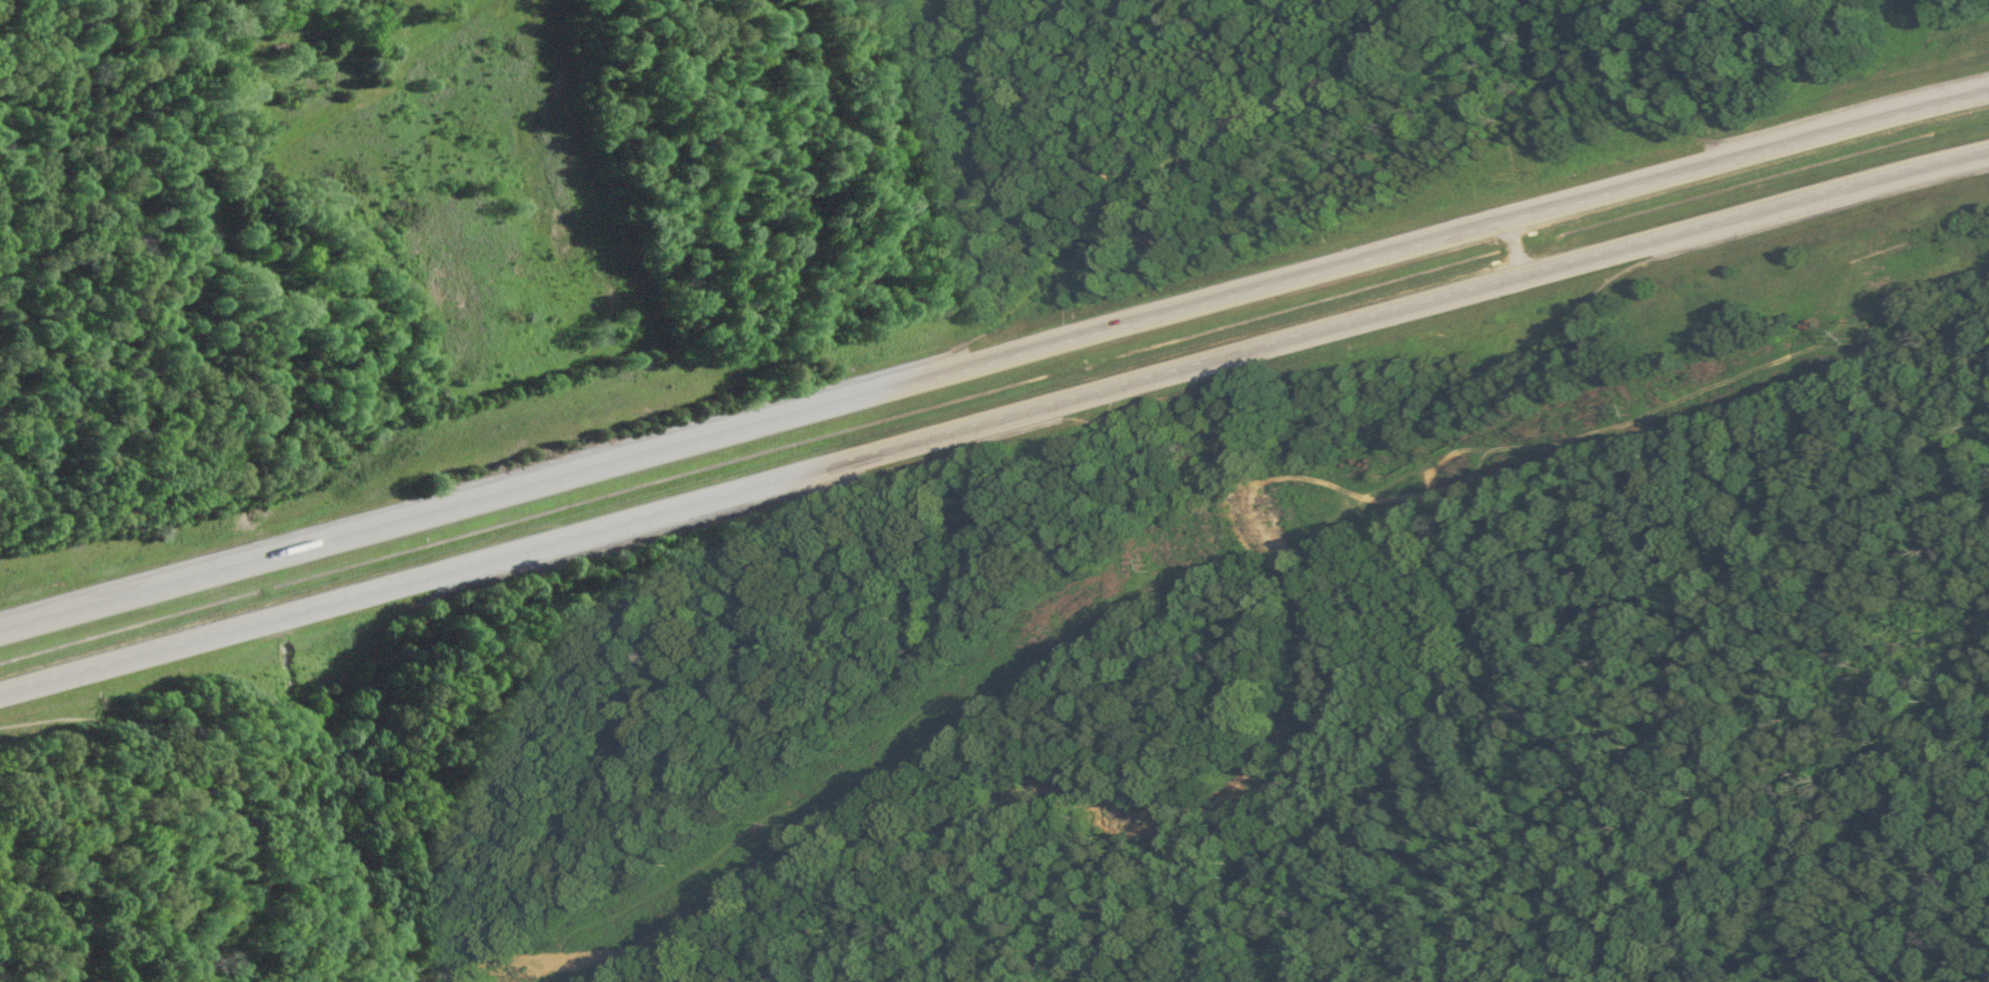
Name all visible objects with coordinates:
road: (993, 360)
road: (993, 418)
road: (1386, 761)

